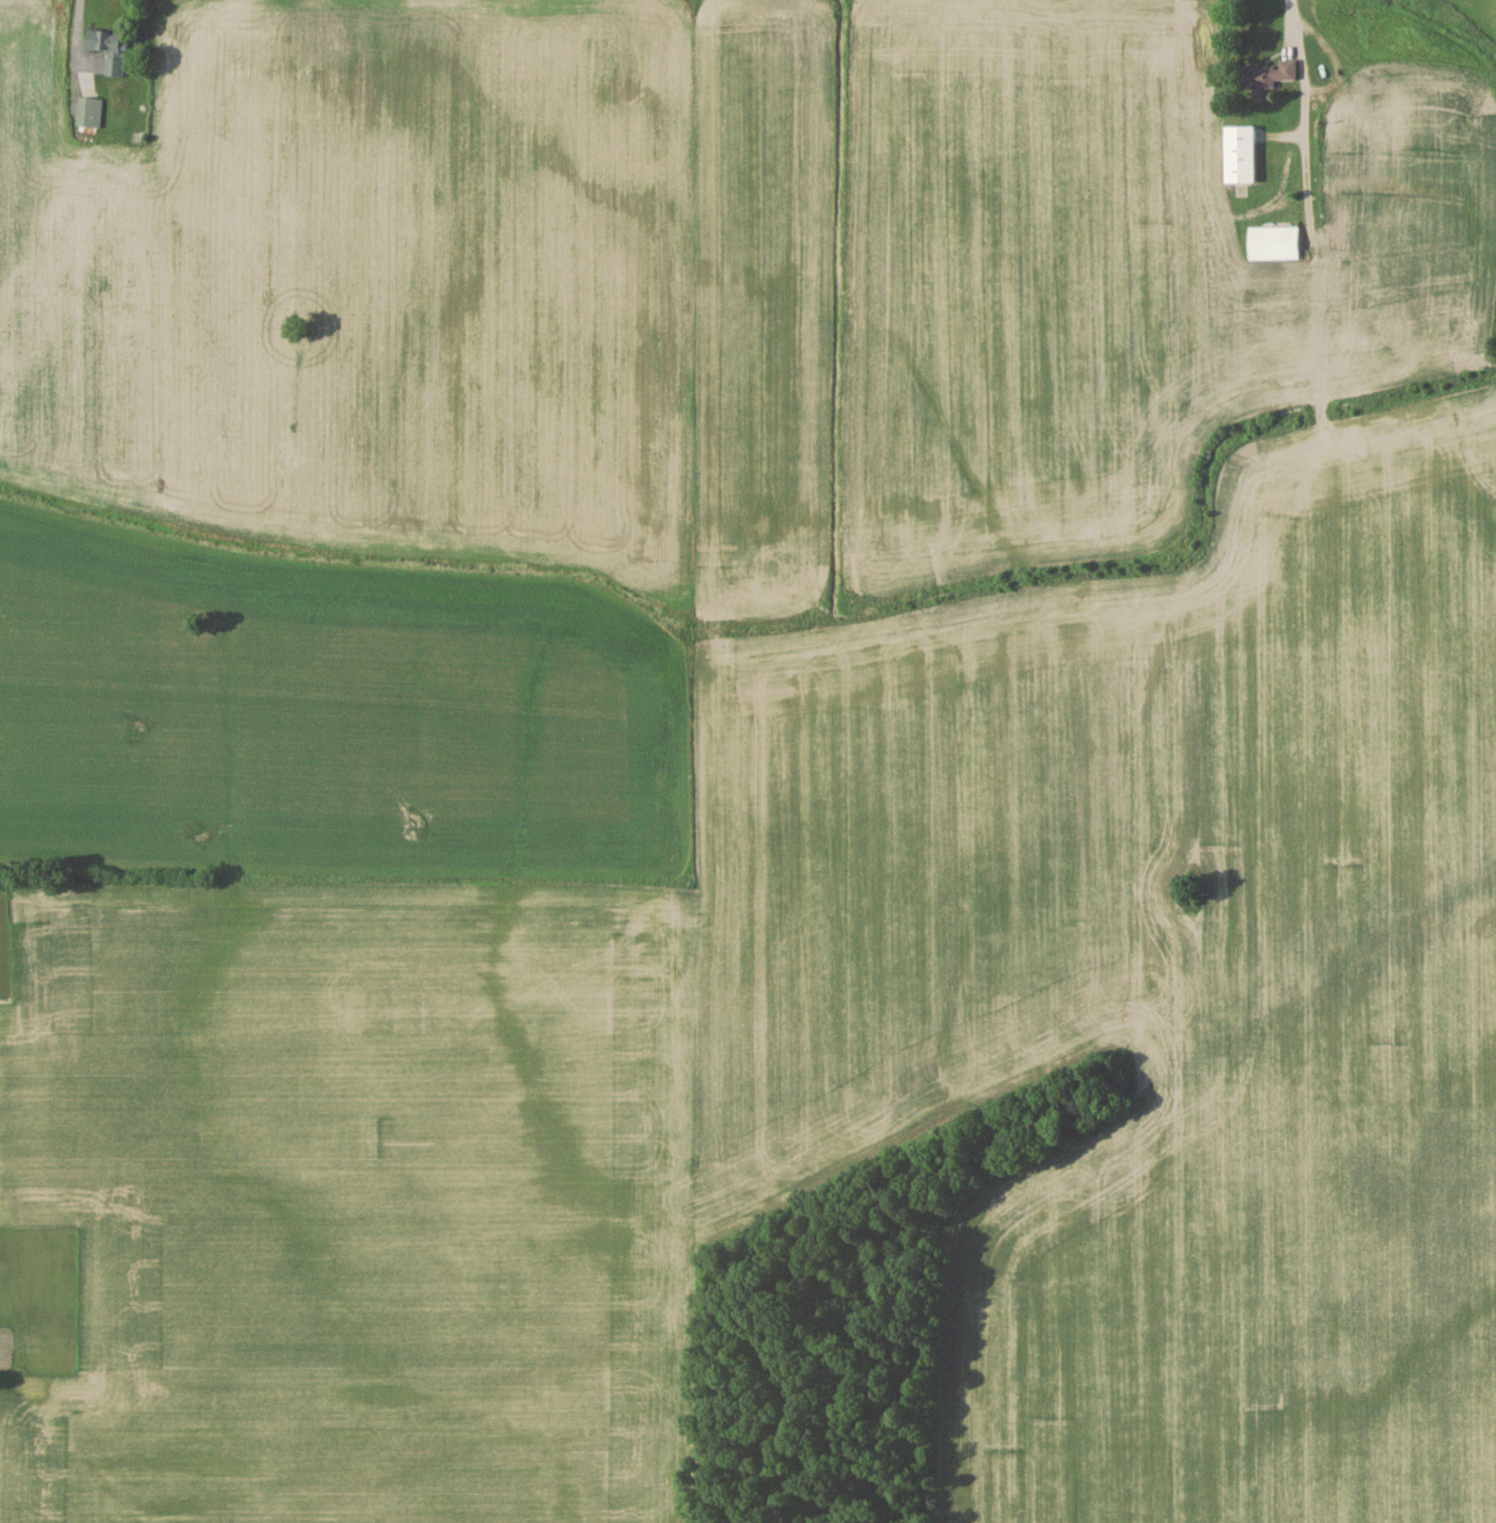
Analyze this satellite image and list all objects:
road: (73, 38)
building: (109, 48)
building: (1265, 75)
building: (1367, 76)
road: (1303, 102)
building: (89, 111)
building: (1341, 120)
building: (1239, 153)
building: (1273, 242)

